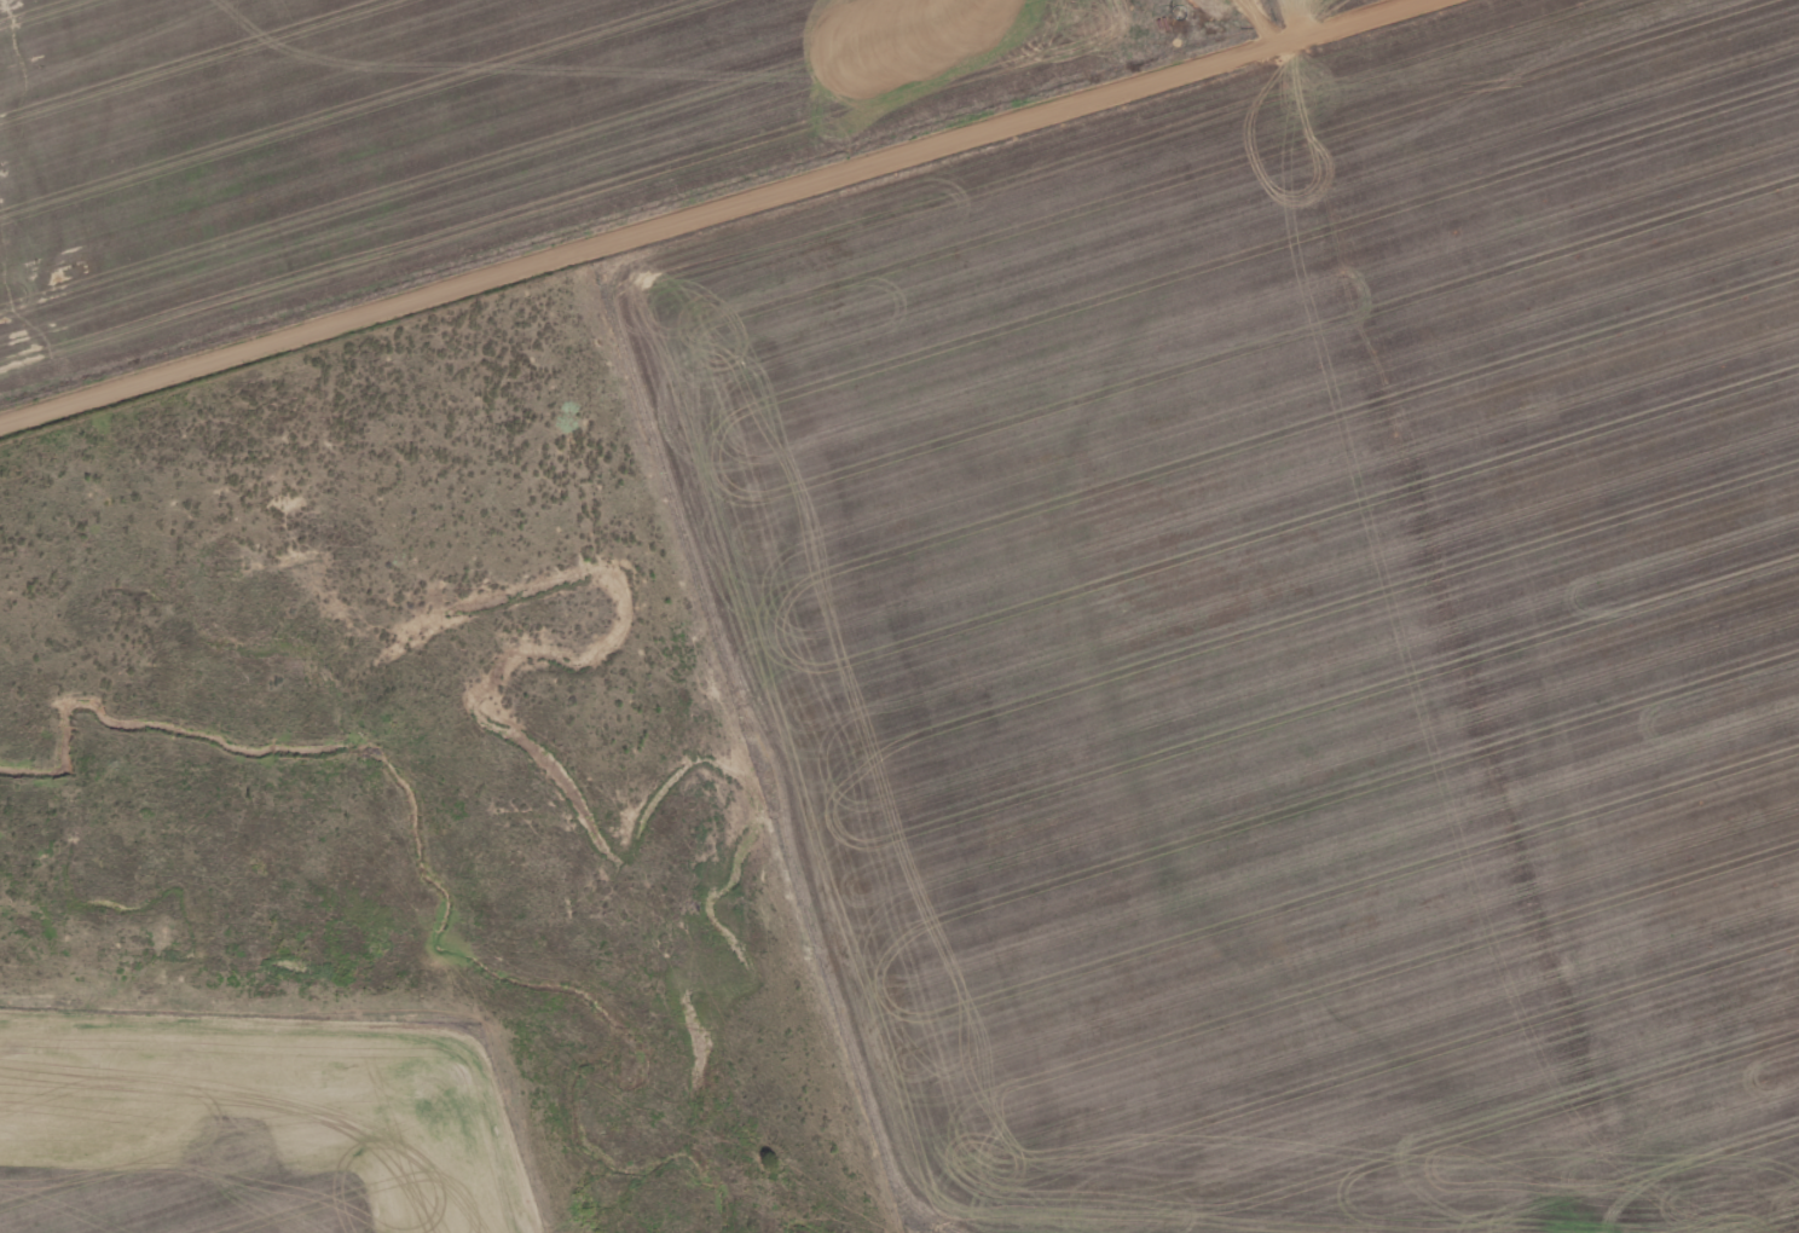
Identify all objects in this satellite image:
road: (705, 210)

